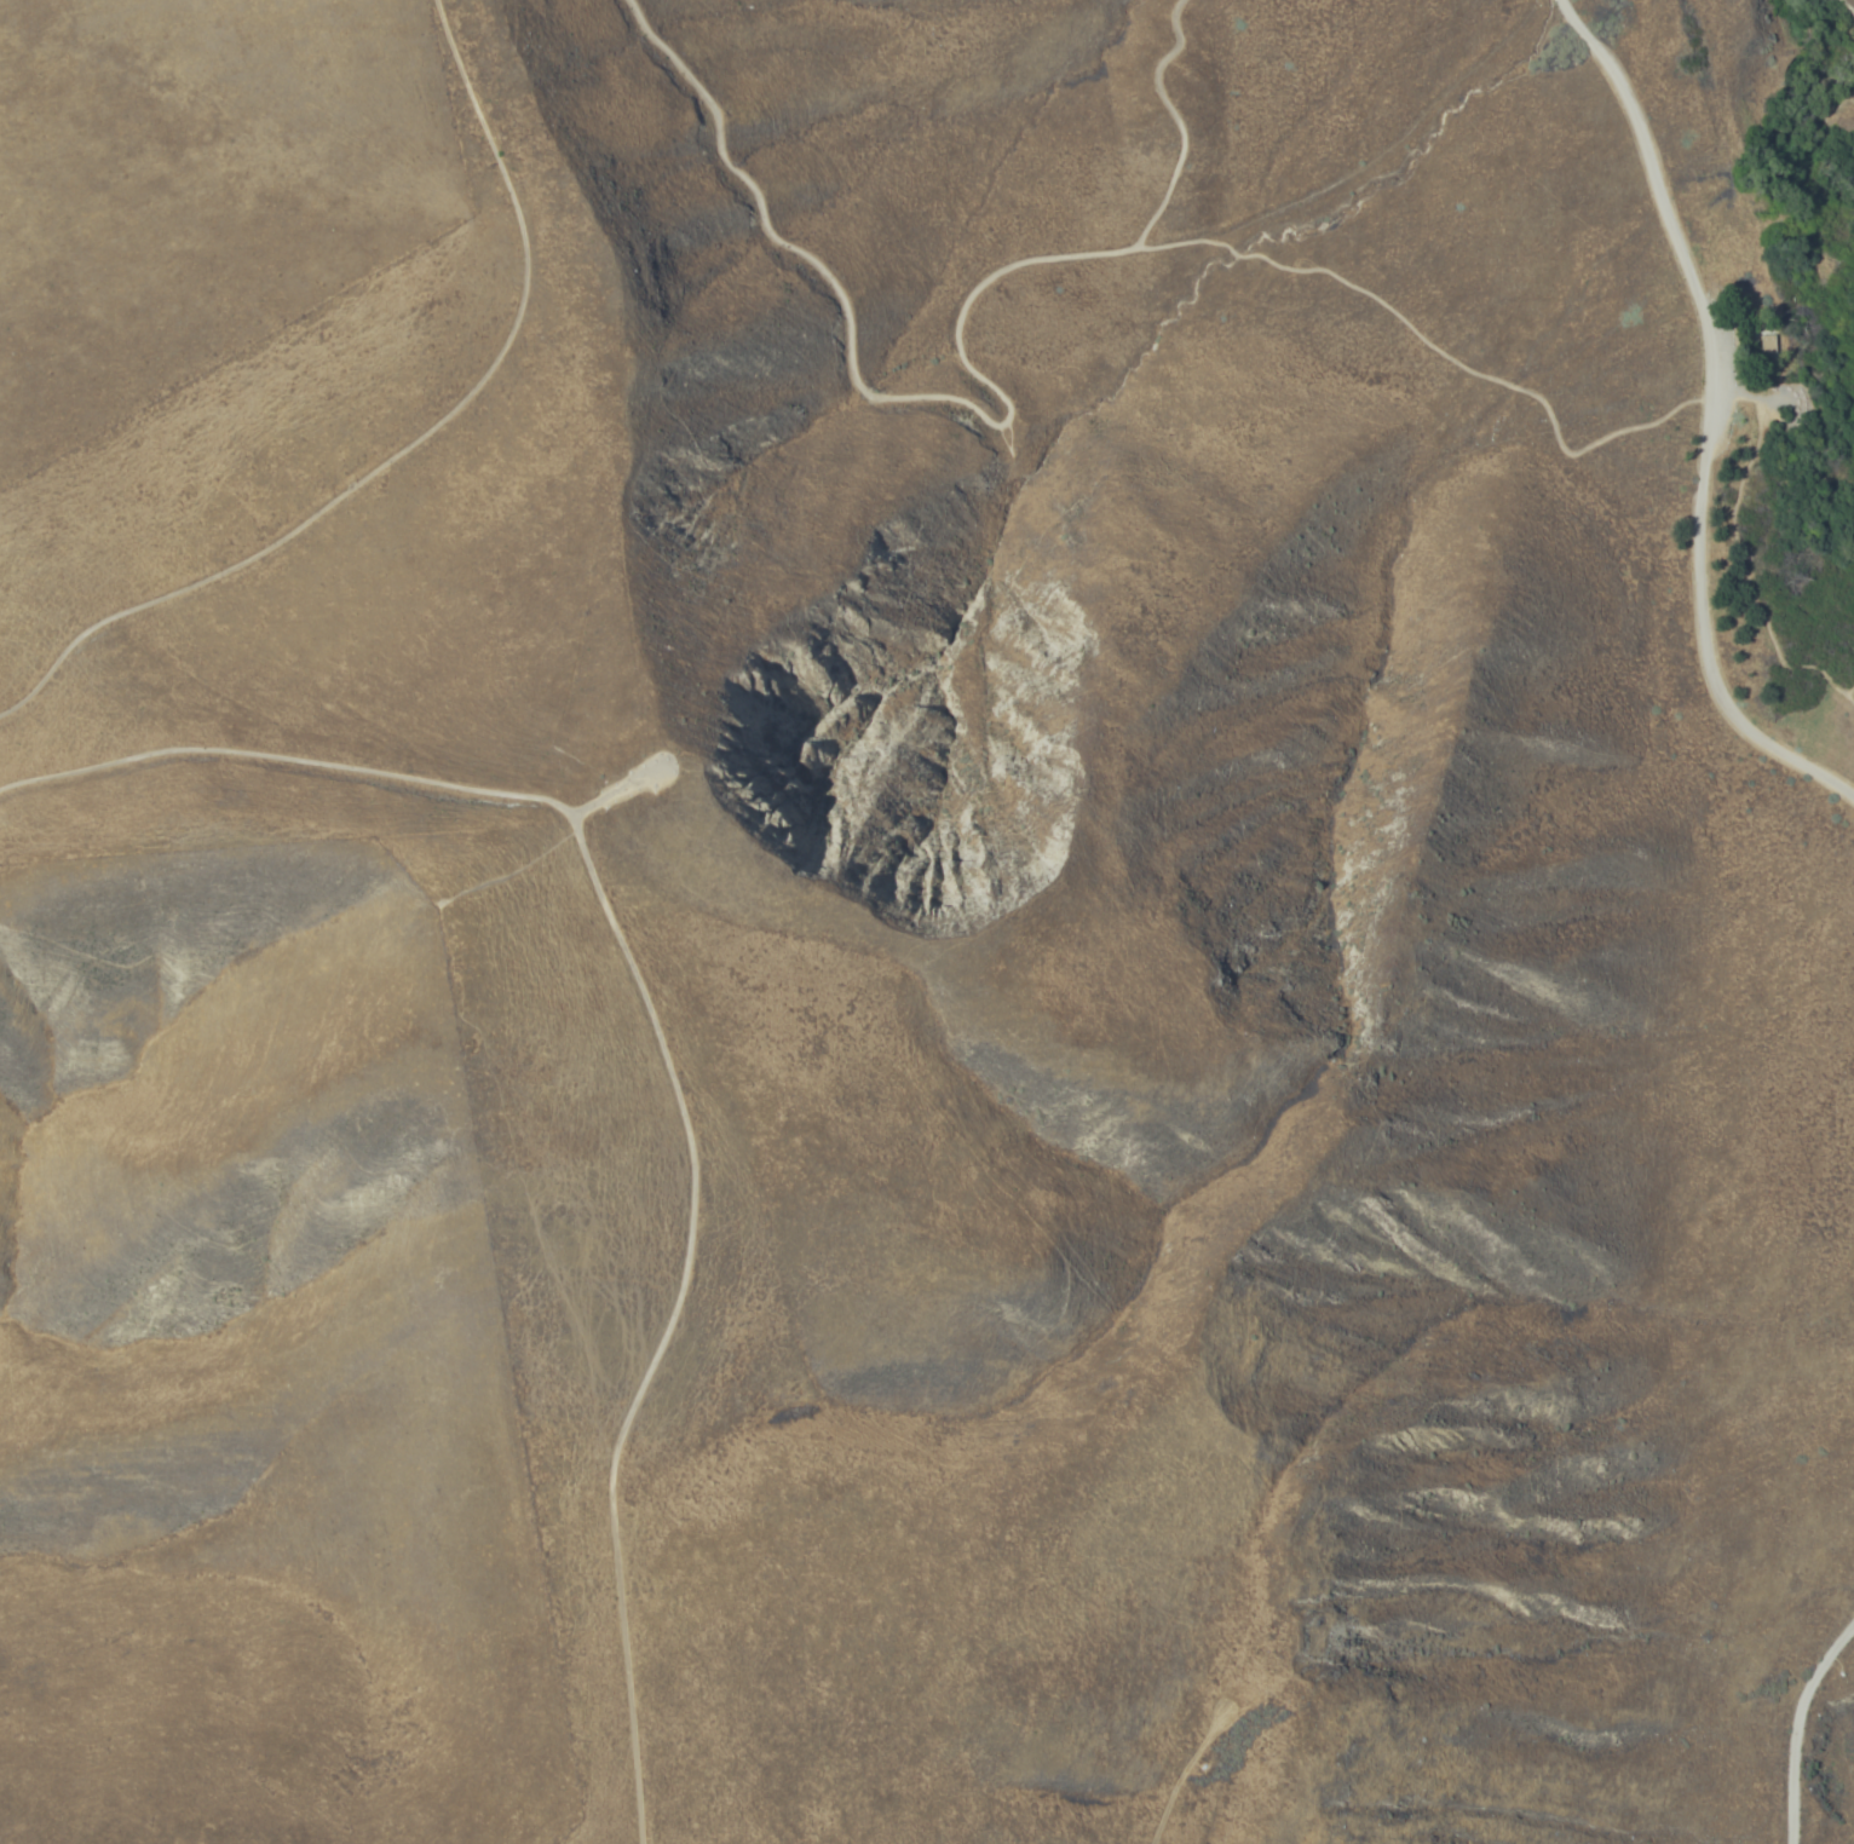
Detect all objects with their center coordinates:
building: (1767, 345)
road: (1433, 352)
road: (1703, 422)
road: (998, 427)
road: (410, 446)
road: (1740, 555)
road: (1848, 686)
road: (660, 1039)
road: (1793, 1730)

